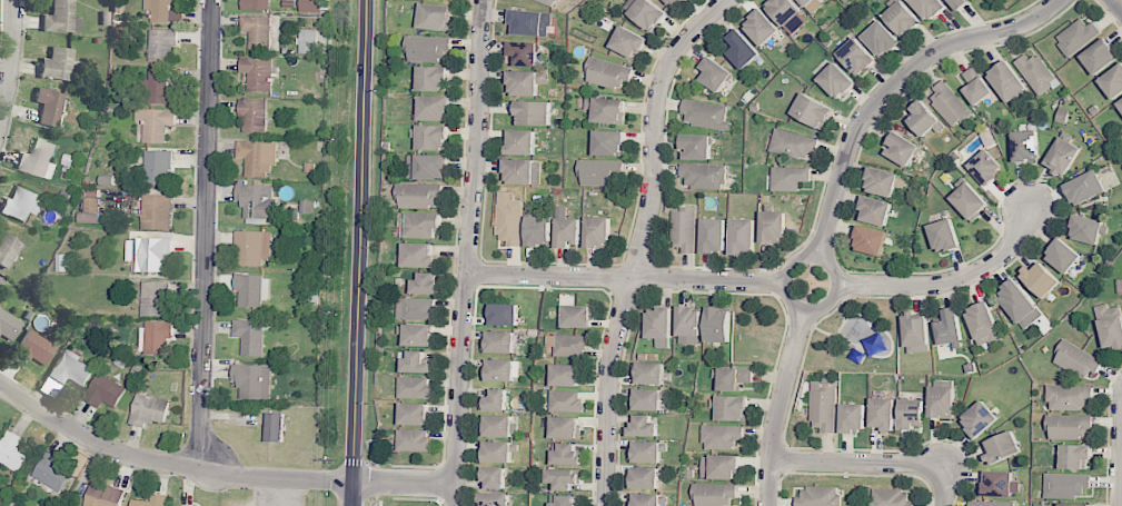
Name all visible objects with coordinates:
building: (549, 2)
building: (673, 2)
building: (957, 3)
building: (255, 4)
building: (811, 4)
building: (310, 6)
road: (1116, 6)
building: (927, 7)
building: (158, 9)
building: (646, 13)
building: (787, 13)
building: (434, 17)
building: (61, 18)
building: (901, 18)
building: (529, 22)
building: (761, 28)
building: (257, 31)
building: (1076, 36)
building: (880, 39)
building: (308, 41)
building: (627, 42)
building: (161, 43)
building: (427, 48)
building: (742, 49)
building: (523, 53)
building: (855, 56)
building: (1099, 56)
building: (58, 65)
road: (13, 68)
building: (257, 72)
building: (607, 73)
building: (1036, 73)
building: (715, 75)
building: (433, 78)
building: (835, 80)
building: (1006, 81)
building: (1112, 81)
building: (525, 82)
road: (893, 86)
building: (976, 86)
building: (157, 88)
building: (1120, 103)
building: (949, 105)
building: (49, 107)
building: (433, 108)
building: (608, 110)
building: (812, 110)
building: (533, 112)
building: (254, 115)
building: (705, 115)
building: (924, 119)
building: (155, 123)
building: (431, 137)
building: (520, 142)
building: (608, 142)
building: (792, 143)
building: (696, 146)
building: (1024, 146)
building: (901, 149)
building: (1061, 156)
building: (257, 157)
building: (38, 159)
building: (425, 166)
building: (985, 166)
building: (158, 167)
building: (522, 171)
building: (600, 172)
building: (703, 176)
building: (788, 178)
building: (881, 181)
building: (1084, 187)
building: (418, 195)
building: (969, 201)
building: (257, 202)
building: (21, 205)
building: (306, 206)
building: (90, 207)
building: (875, 210)
building: (157, 211)
building: (508, 219)
building: (419, 225)
building: (772, 226)
building: (684, 229)
building: (1088, 229)
building: (538, 230)
building: (567, 232)
building: (597, 232)
road: (206, 234)
building: (713, 235)
building: (943, 235)
building: (742, 236)
road: (360, 239)
building: (870, 240)
road: (639, 241)
building: (252, 247)
building: (8, 249)
building: (148, 252)
road: (467, 252)
building: (418, 255)
road: (816, 256)
building: (1062, 256)
road: (625, 277)
building: (1040, 279)
road: (951, 280)
building: (426, 282)
building: (251, 289)
building: (153, 298)
building: (1017, 304)
building: (415, 308)
building: (504, 314)
building: (577, 316)
building: (982, 324)
building: (8, 325)
building: (688, 325)
building: (717, 325)
building: (1110, 325)
building: (658, 326)
building: (949, 327)
building: (915, 333)
building: (418, 335)
building: (156, 336)
building: (250, 336)
park: (821, 336)
building: (499, 341)
building: (568, 345)
building: (36, 348)
building: (1078, 359)
building: (416, 363)
building: (502, 369)
building: (68, 373)
building: (649, 373)
building: (565, 375)
building: (733, 378)
building: (252, 380)
building: (415, 387)
building: (103, 391)
building: (1068, 397)
building: (647, 399)
building: (494, 400)
building: (565, 400)
building: (941, 401)
road: (776, 406)
building: (823, 406)
building: (731, 408)
building: (148, 410)
building: (911, 413)
building: (414, 414)
building: (882, 414)
building: (852, 417)
building: (979, 418)
building: (498, 425)
building: (1068, 426)
building: (274, 427)
building: (565, 427)
building: (643, 427)
building: (721, 436)
building: (414, 440)
building: (1001, 447)
building: (12, 452)
building: (497, 452)
building: (648, 452)
building: (566, 454)
building: (1074, 456)
road: (855, 463)
road: (167, 464)
building: (719, 467)
building: (51, 472)
road: (1120, 473)
building: (494, 477)
building: (643, 477)
building: (563, 478)
road: (404, 480)
building: (997, 483)
road: (941, 485)
building: (1065, 485)
street lamp: (228, 490)
road: (353, 493)
building: (102, 495)
building: (714, 495)
building: (818, 496)
building: (888, 497)
building: (494, 499)
building: (645, 499)
building: (151, 500)
building: (564, 500)
building: (992, 503)
building: (1073, 504)
building: (181, 505)

